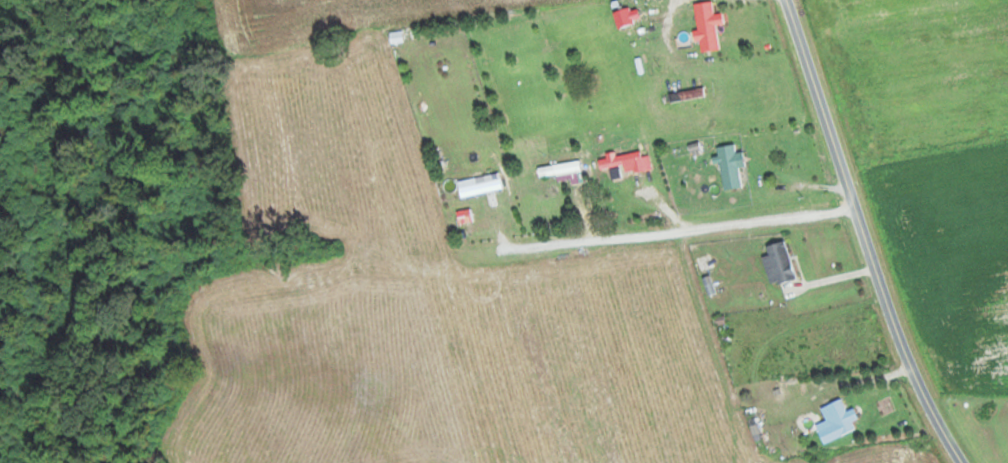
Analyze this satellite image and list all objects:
building: (623, 19)
building: (706, 26)
building: (628, 161)
building: (730, 165)
building: (562, 170)
building: (480, 187)
road: (865, 236)
building: (781, 261)
building: (841, 416)

